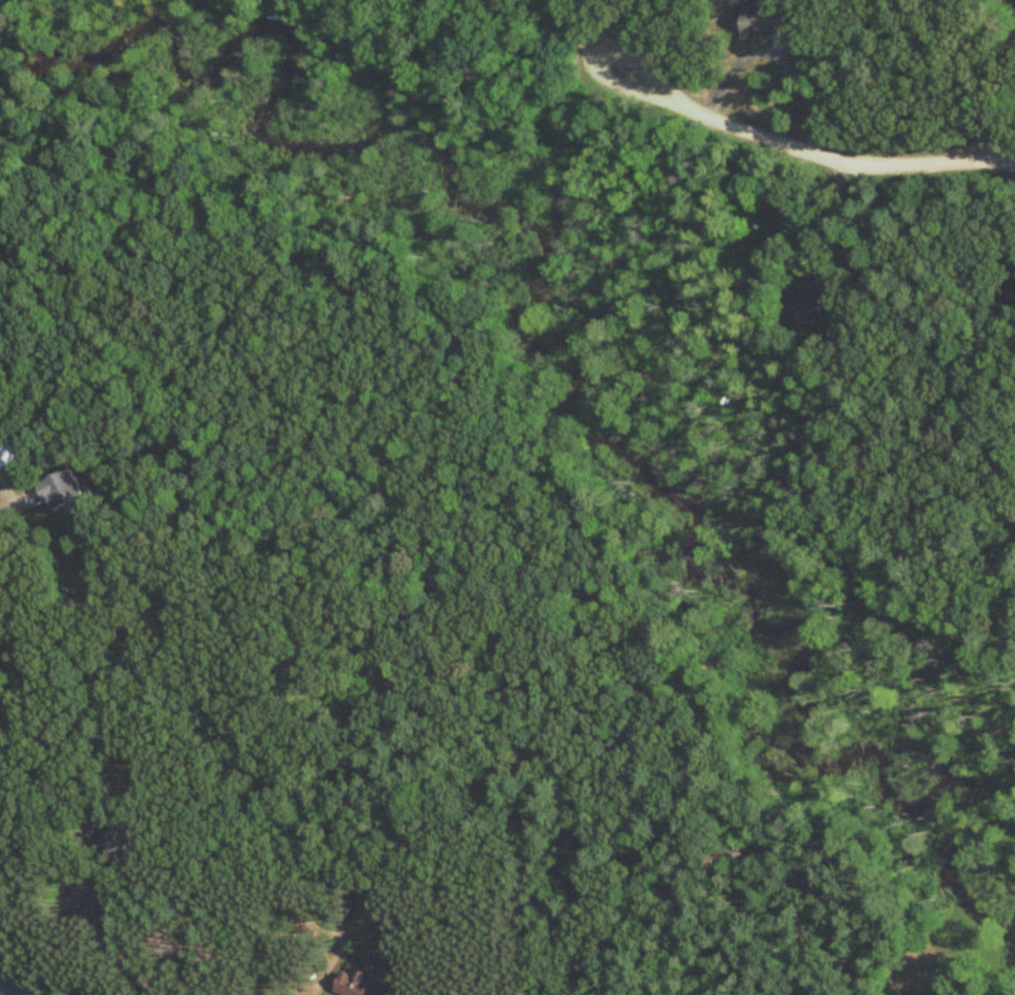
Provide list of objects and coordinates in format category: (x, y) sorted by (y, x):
road: (598, 12)
building: (764, 21)
road: (575, 33)
road: (774, 55)
road: (976, 107)
road: (801, 150)
road: (825, 211)
building: (812, 300)
building: (6, 453)
building: (58, 489)
road: (6, 502)
building: (114, 844)
building: (85, 891)
road: (135, 951)
building: (348, 984)
road: (12, 988)

